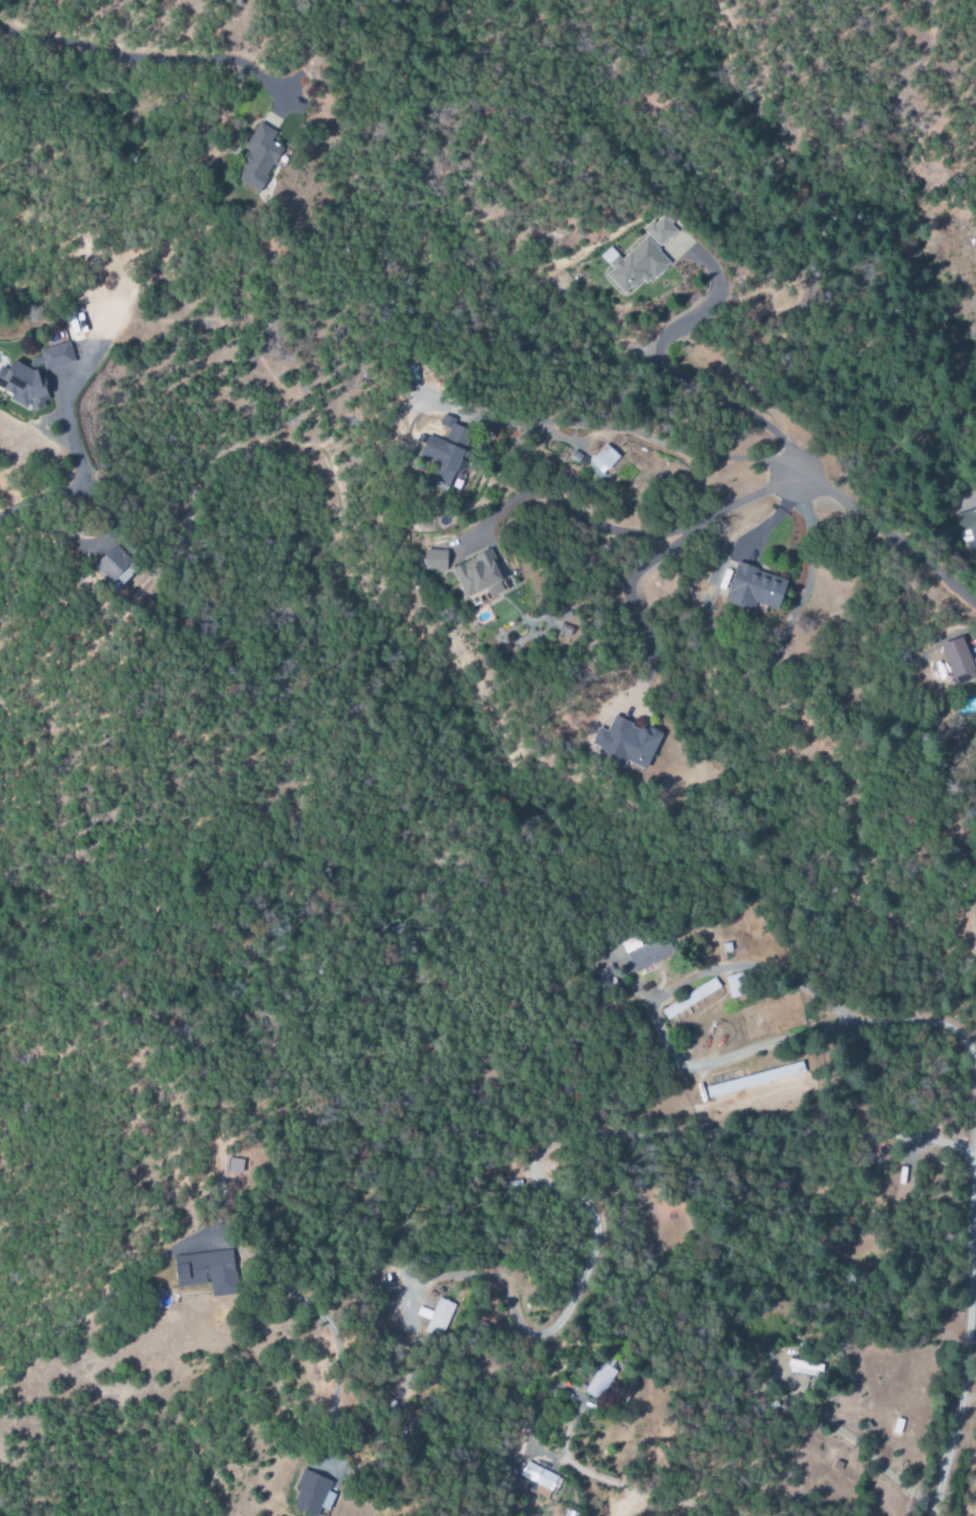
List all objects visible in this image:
building: (254, 159)
building: (660, 231)
building: (637, 266)
building: (31, 375)
building: (446, 452)
building: (598, 461)
road: (41, 501)
building: (967, 523)
road: (889, 534)
building: (435, 559)
building: (110, 562)
building: (478, 575)
building: (753, 588)
building: (958, 661)
building: (625, 742)
building: (649, 952)
building: (734, 986)
building: (754, 1080)
building: (225, 1165)
building: (195, 1273)
building: (436, 1317)
road: (969, 1325)
building: (804, 1368)
building: (599, 1381)
building: (538, 1479)
building: (306, 1495)
building: (569, 1513)

